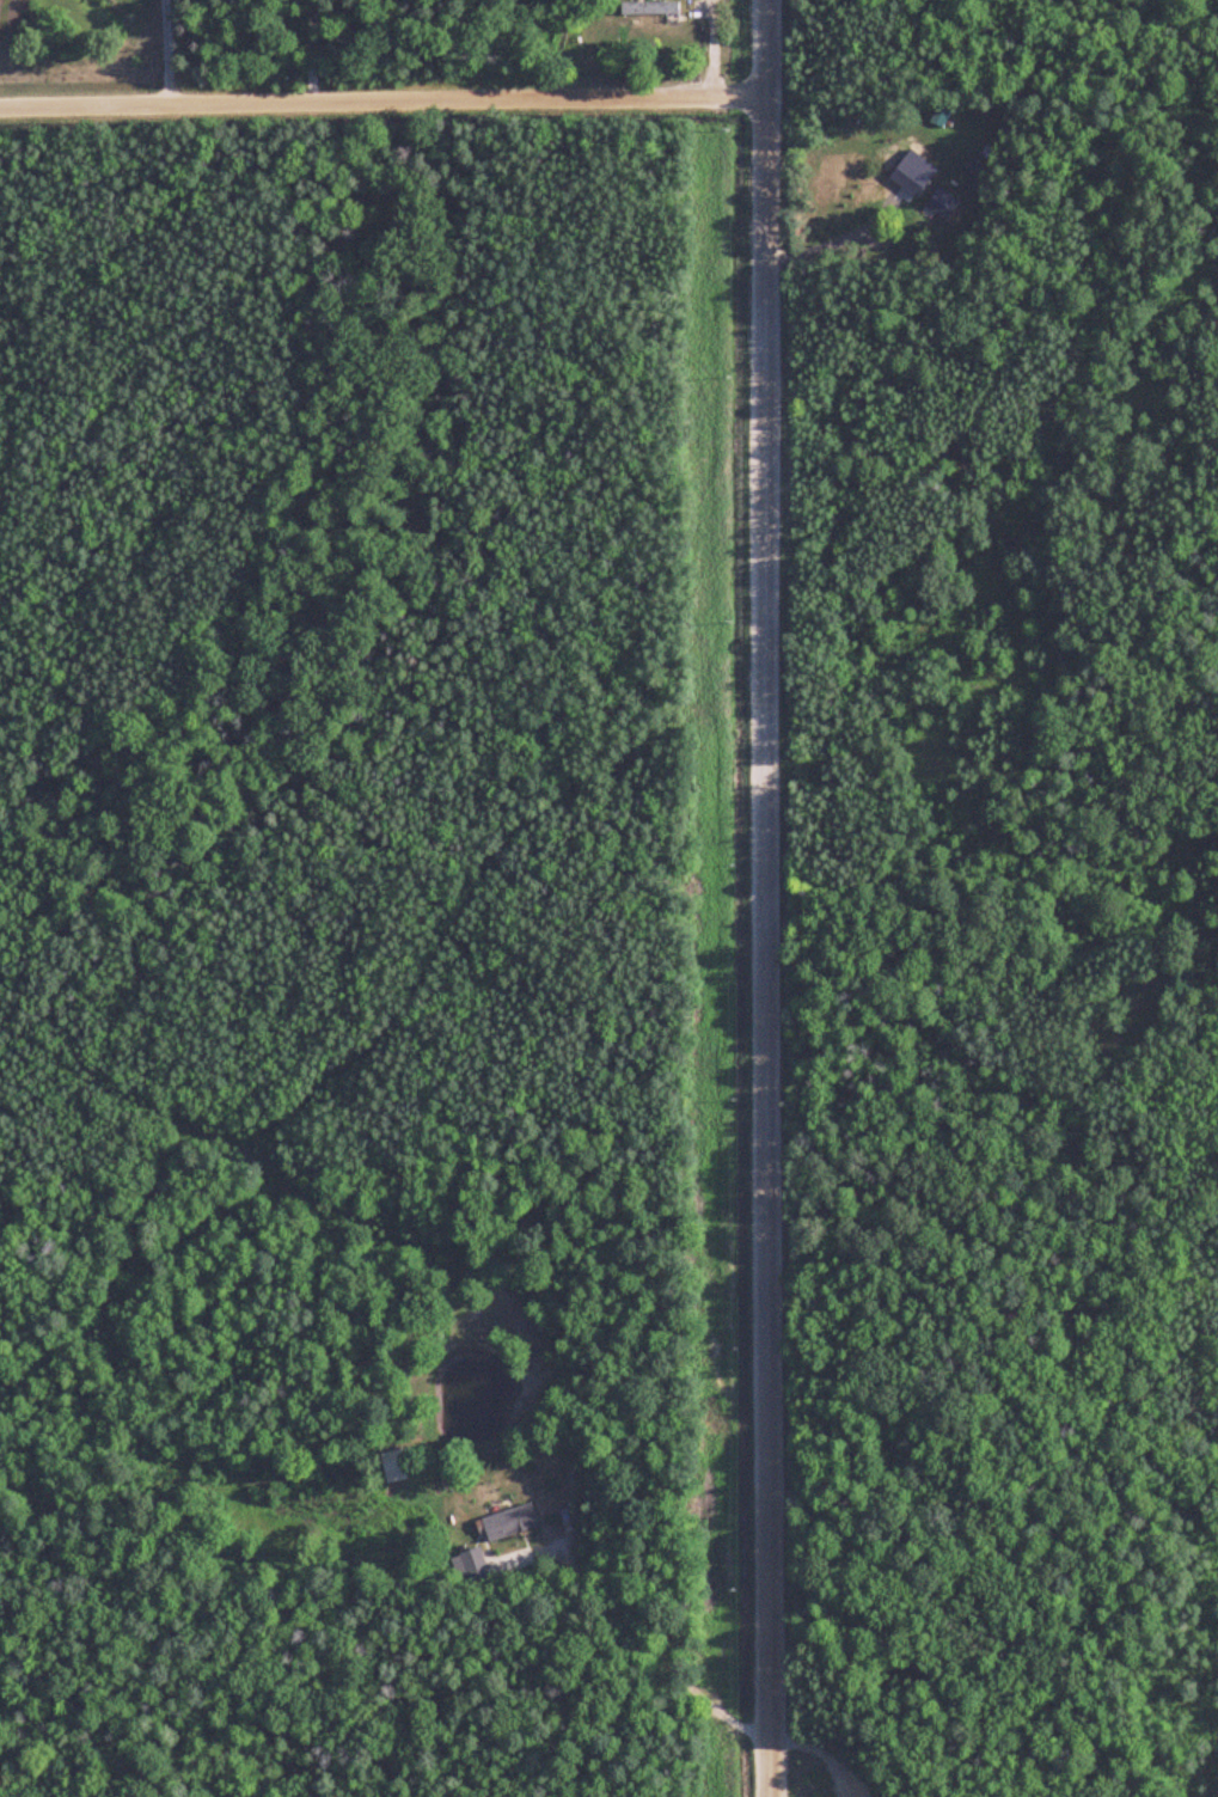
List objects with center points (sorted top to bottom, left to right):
building: (650, 7)
road: (170, 51)
road: (380, 99)
building: (910, 179)
building: (942, 204)
road: (836, 243)
road: (757, 898)
building: (397, 1466)
building: (507, 1523)
building: (470, 1566)
road: (650, 1649)

